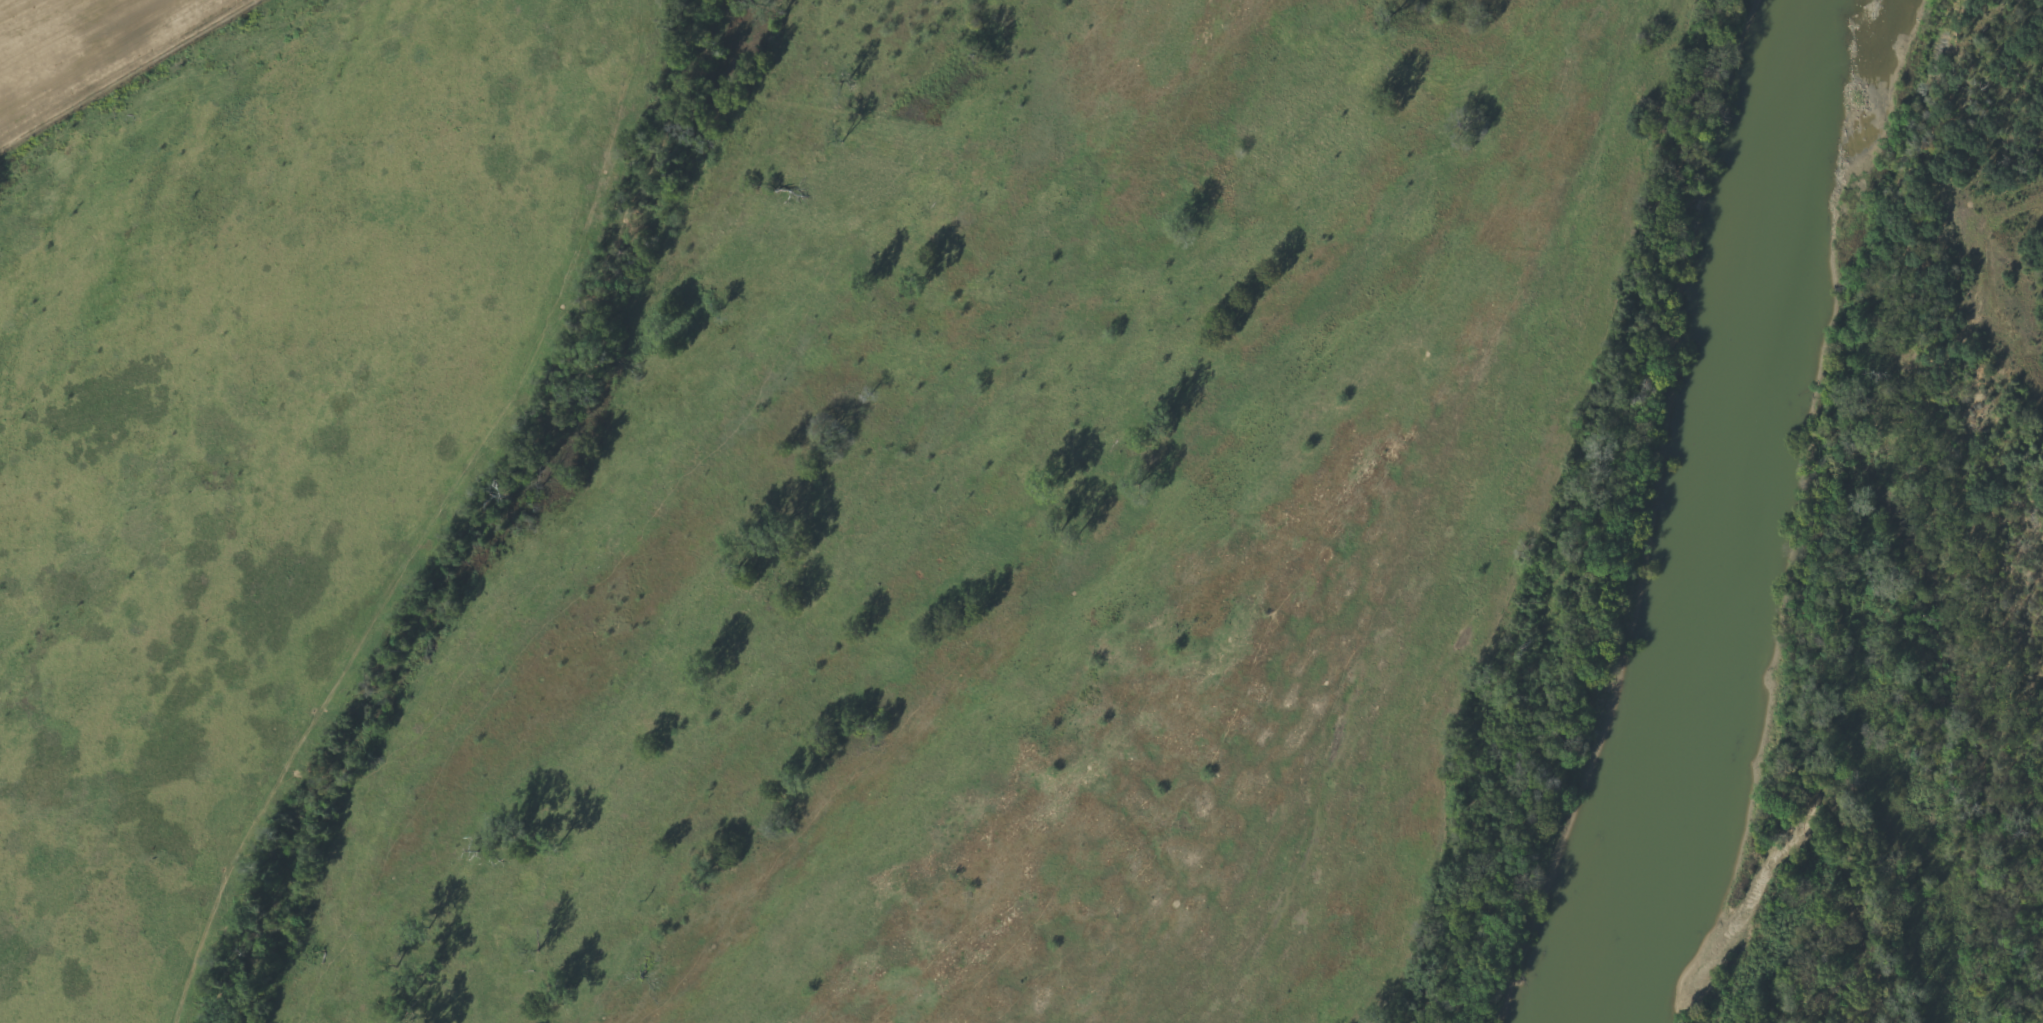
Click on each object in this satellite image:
river: (1667, 511)

